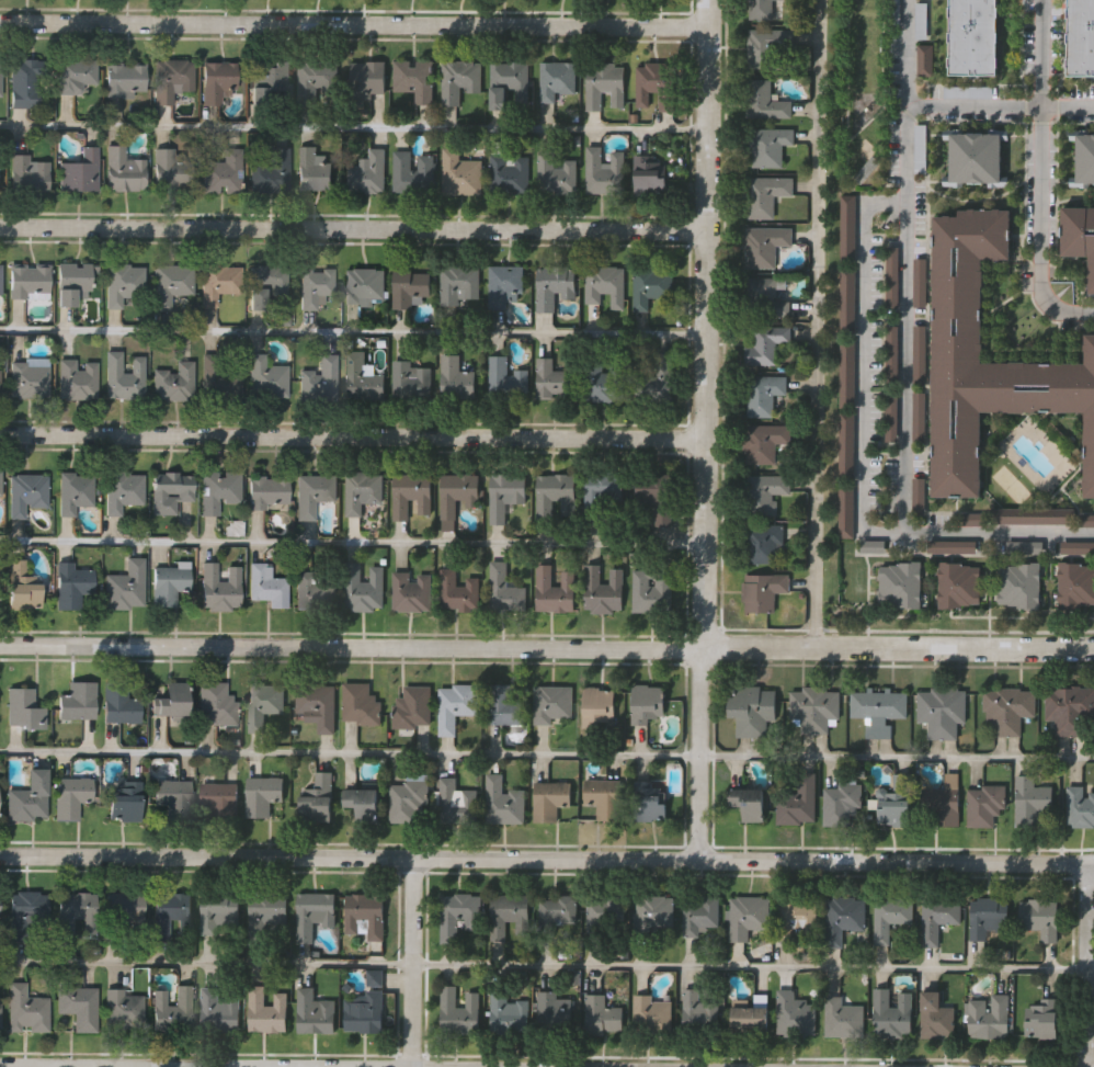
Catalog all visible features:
building: (761, 10)
building: (893, 13)
building: (921, 20)
road: (354, 24)
building: (973, 37)
building: (1080, 38)
building: (768, 46)
road: (907, 54)
building: (926, 59)
building: (78, 76)
building: (0, 77)
building: (171, 78)
building: (367, 78)
building: (125, 80)
building: (414, 80)
building: (459, 80)
building: (557, 80)
building: (218, 81)
building: (270, 82)
building: (315, 82)
building: (25, 83)
building: (509, 84)
building: (604, 84)
building: (656, 84)
building: (969, 90)
building: (765, 101)
road: (354, 129)
building: (770, 146)
building: (920, 147)
building: (976, 158)
building: (1084, 158)
building: (170, 168)
building: (124, 169)
building: (312, 169)
building: (79, 171)
building: (271, 171)
building: (605, 171)
building: (223, 172)
building: (369, 172)
building: (413, 172)
building: (27, 173)
building: (460, 173)
building: (510, 173)
building: (557, 174)
building: (650, 174)
road: (1040, 174)
building: (766, 194)
road: (353, 227)
building: (850, 229)
building: (1078, 236)
building: (764, 246)
building: (893, 275)
building: (0, 276)
building: (219, 281)
building: (921, 281)
building: (30, 282)
building: (72, 282)
building: (172, 283)
building: (267, 284)
building: (460, 284)
building: (606, 284)
building: (126, 285)
building: (365, 285)
building: (505, 285)
building: (554, 285)
building: (315, 286)
building: (410, 286)
building: (651, 286)
building: (764, 298)
building: (848, 299)
road: (908, 319)
road: (819, 325)
road: (353, 333)
building: (765, 344)
building: (957, 348)
building: (920, 353)
building: (892, 355)
road: (862, 366)
building: (847, 372)
building: (657, 375)
building: (221, 376)
building: (267, 377)
building: (30, 378)
building: (77, 378)
building: (124, 378)
building: (362, 378)
building: (458, 378)
building: (320, 379)
building: (410, 381)
building: (508, 381)
building: (552, 381)
building: (174, 382)
building: (606, 383)
building: (0, 389)
building: (763, 394)
building: (892, 416)
building: (920, 416)
road: (707, 430)
road: (353, 435)
building: (764, 442)
building: (847, 445)
building: (0, 483)
building: (219, 489)
building: (75, 490)
building: (123, 490)
building: (171, 490)
building: (269, 490)
building: (27, 491)
building: (363, 491)
building: (314, 493)
building: (657, 493)
building: (765, 493)
building: (411, 495)
building: (505, 495)
building: (920, 495)
building: (456, 496)
building: (556, 497)
building: (603, 498)
building: (847, 510)
building: (1033, 514)
road: (353, 543)
building: (765, 544)
building: (951, 546)
building: (1024, 546)
building: (1078, 546)
building: (72, 583)
building: (169, 583)
building: (267, 584)
building: (901, 584)
building: (958, 584)
building: (1021, 584)
building: (1075, 584)
building: (22, 586)
building: (126, 586)
building: (220, 587)
building: (365, 588)
building: (652, 589)
building: (314, 590)
building: (555, 590)
building: (604, 590)
building: (412, 591)
building: (458, 591)
building: (505, 591)
building: (763, 591)
road: (547, 649)
building: (170, 700)
building: (78, 701)
building: (119, 702)
building: (217, 703)
building: (265, 703)
building: (361, 704)
building: (554, 704)
building: (318, 705)
building: (647, 705)
building: (413, 706)
building: (456, 706)
building: (505, 706)
building: (600, 706)
building: (24, 708)
building: (816, 708)
building: (879, 708)
building: (1008, 708)
building: (1070, 708)
building: (753, 710)
building: (944, 711)
road: (350, 756)
road: (897, 759)
building: (72, 795)
building: (262, 795)
building: (29, 796)
building: (317, 799)
building: (550, 799)
building: (604, 799)
building: (649, 799)
building: (124, 801)
building: (174, 801)
building: (798, 801)
building: (1030, 801)
building: (409, 802)
building: (504, 802)
building: (219, 803)
building: (458, 803)
building: (896, 803)
building: (944, 803)
building: (748, 804)
building: (362, 805)
building: (843, 805)
building: (985, 807)
building: (1080, 807)
road: (546, 858)
building: (559, 910)
building: (169, 911)
building: (219, 911)
building: (656, 911)
building: (76, 912)
building: (315, 913)
building: (606, 913)
building: (700, 913)
building: (29, 915)
building: (123, 915)
building: (460, 915)
building: (510, 916)
building: (749, 916)
building: (365, 917)
building: (844, 917)
building: (891, 917)
building: (939, 917)
building: (269, 918)
building: (990, 918)
building: (1041, 918)
building: (798, 919)
road: (411, 962)
road: (1089, 964)
road: (544, 966)
road: (1091, 973)
building: (79, 1006)
building: (366, 1006)
building: (26, 1009)
building: (125, 1009)
building: (171, 1009)
building: (267, 1010)
building: (699, 1010)
building: (219, 1011)
building: (459, 1011)
building: (510, 1011)
building: (555, 1011)
building: (316, 1012)
building: (892, 1012)
building: (0, 1013)
building: (652, 1013)
building: (797, 1014)
building: (602, 1015)
building: (936, 1015)
building: (990, 1017)
building: (843, 1018)
building: (750, 1019)
building: (1042, 1019)
road: (66, 1066)

